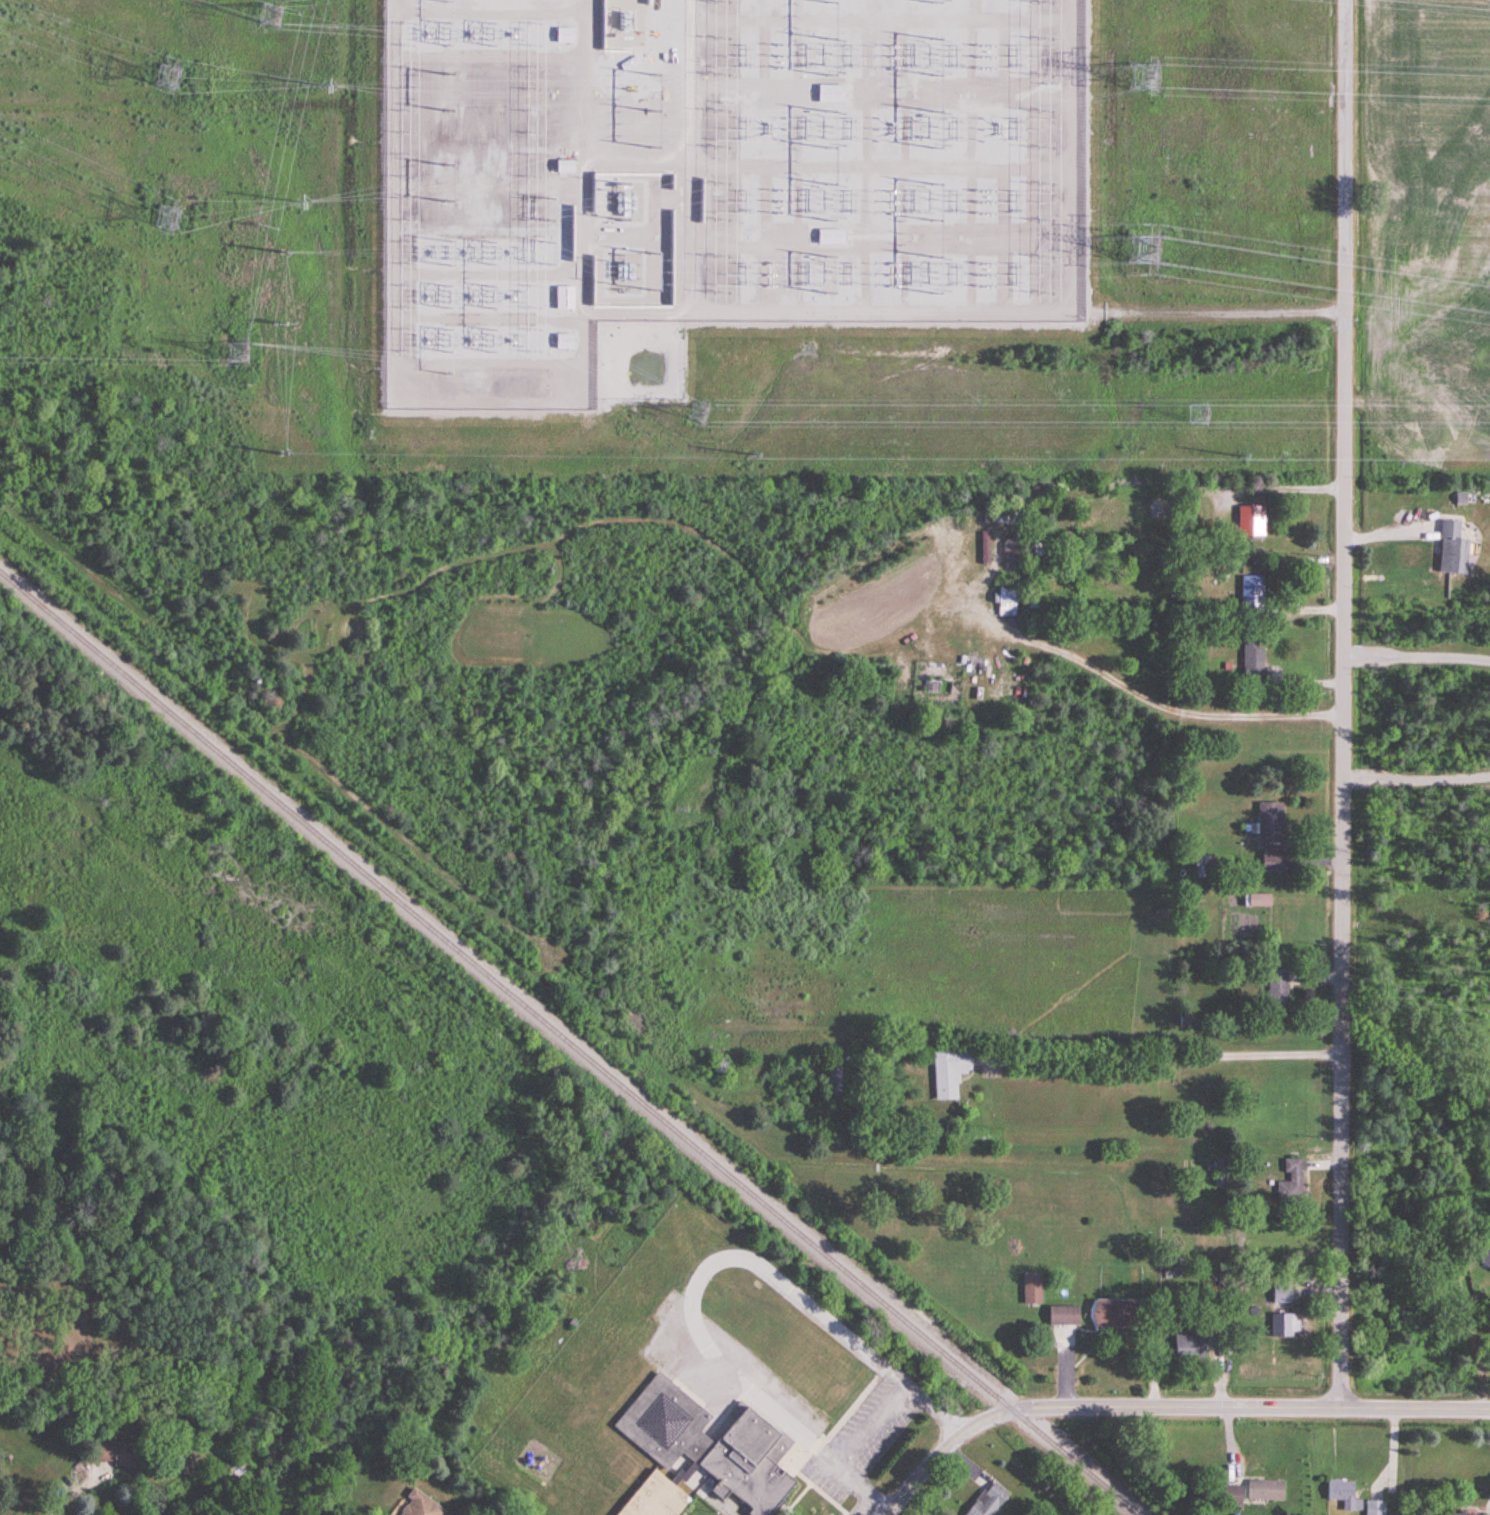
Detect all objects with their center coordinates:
power tower: (271, 17)
building: (625, 23)
building: (563, 34)
power tower: (169, 79)
power tower: (1141, 80)
power tower: (327, 88)
building: (830, 93)
building: (563, 166)
power substation: (715, 176)
power tower: (297, 201)
power tower: (553, 211)
power tower: (167, 220)
power tower: (263, 228)
building: (830, 237)
power tower: (283, 251)
power tower: (1144, 253)
power tower: (553, 254)
power tower: (493, 275)
building: (563, 297)
road: (730, 312)
road: (1214, 313)
power tower: (492, 320)
power tower: (283, 324)
building: (563, 341)
power tower: (241, 351)
power tower: (1199, 416)
power tower: (701, 417)
power tower: (283, 455)
power tower: (753, 456)
power tower: (1239, 457)
building: (1467, 497)
building: (1156, 510)
building: (1251, 520)
building: (1453, 549)
building: (976, 552)
building: (1013, 554)
building: (1032, 588)
building: (1253, 590)
road: (1417, 656)
building: (1254, 660)
road: (1130, 689)
road: (1345, 704)
road: (1417, 777)
building: (1273, 836)
building: (1260, 899)
building: (1279, 993)
railway: (570, 1042)
building: (724, 1066)
building: (950, 1073)
building: (1222, 1173)
building: (1294, 1182)
road: (701, 1270)
building: (1033, 1289)
building: (1283, 1294)
building: (1113, 1314)
building: (1064, 1315)
building: (1286, 1325)
building: (1190, 1348)
road: (1168, 1408)
road: (873, 1425)
parking lot: (860, 1439)
building: (701, 1452)
building: (114, 1453)
building: (1266, 1490)
building: (1345, 1495)
building: (1232, 1496)
road: (67, 1497)
building: (988, 1501)
building: (418, 1506)
building: (1377, 1508)

